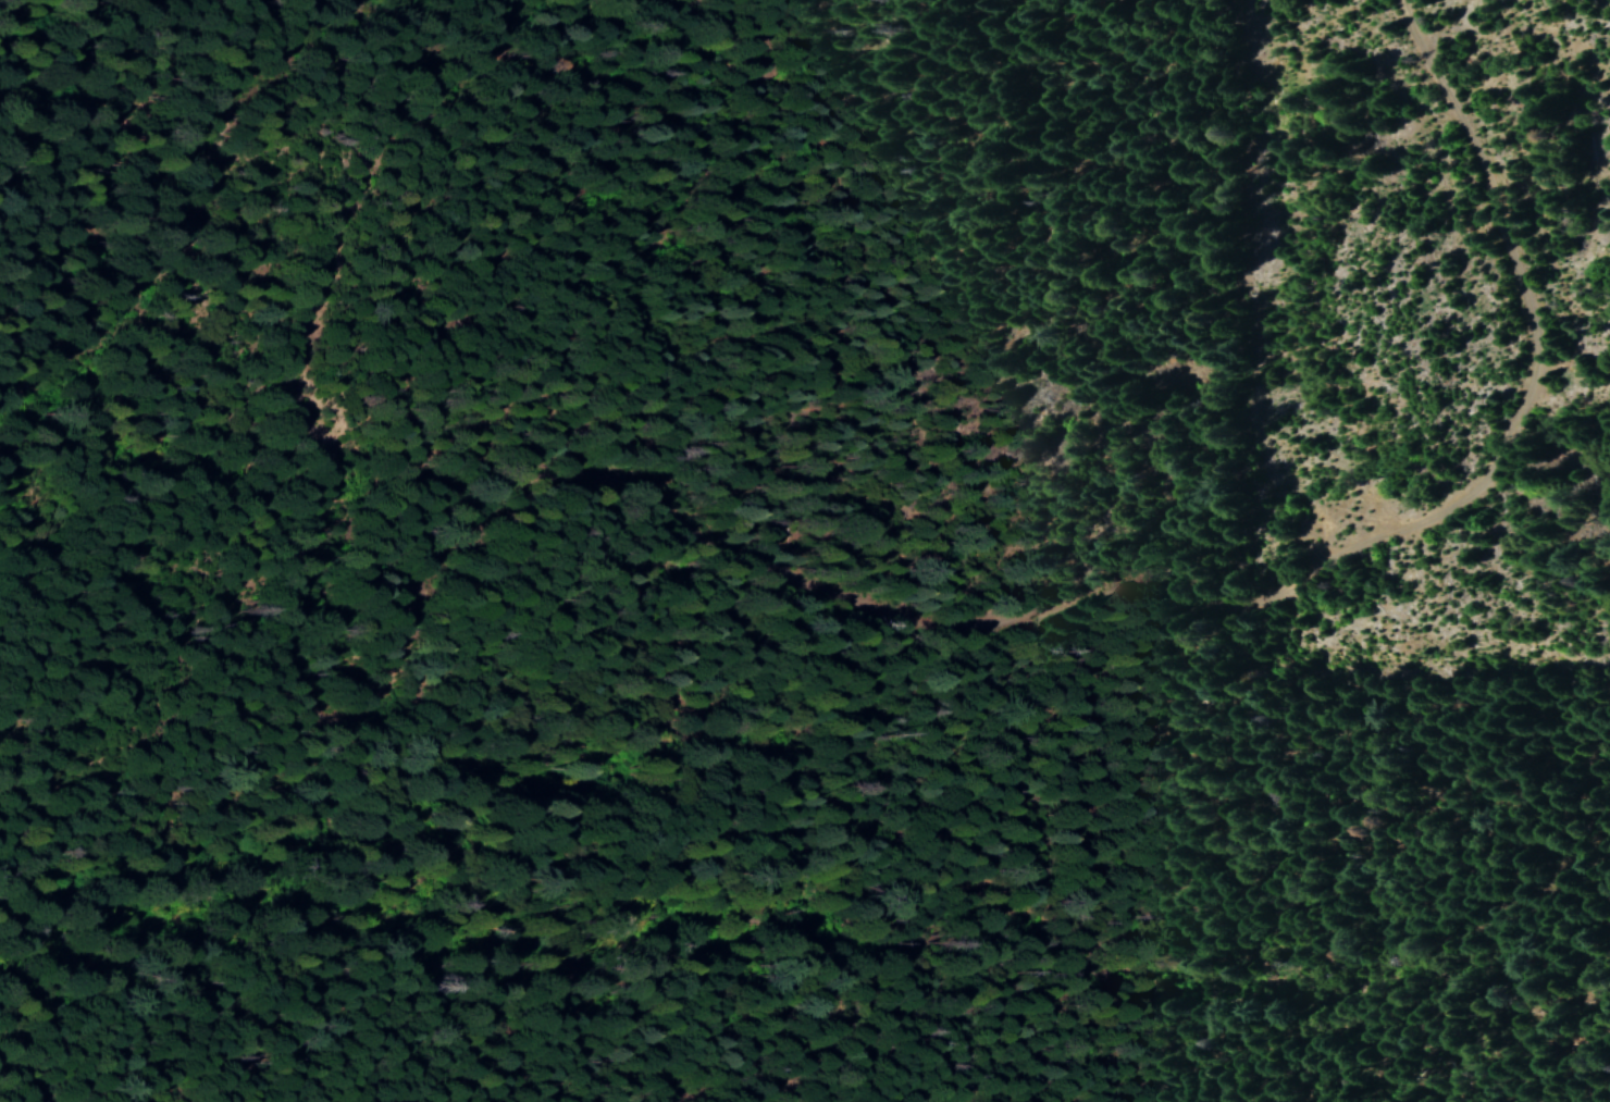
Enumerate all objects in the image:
road: (223, 224)
road: (709, 533)

